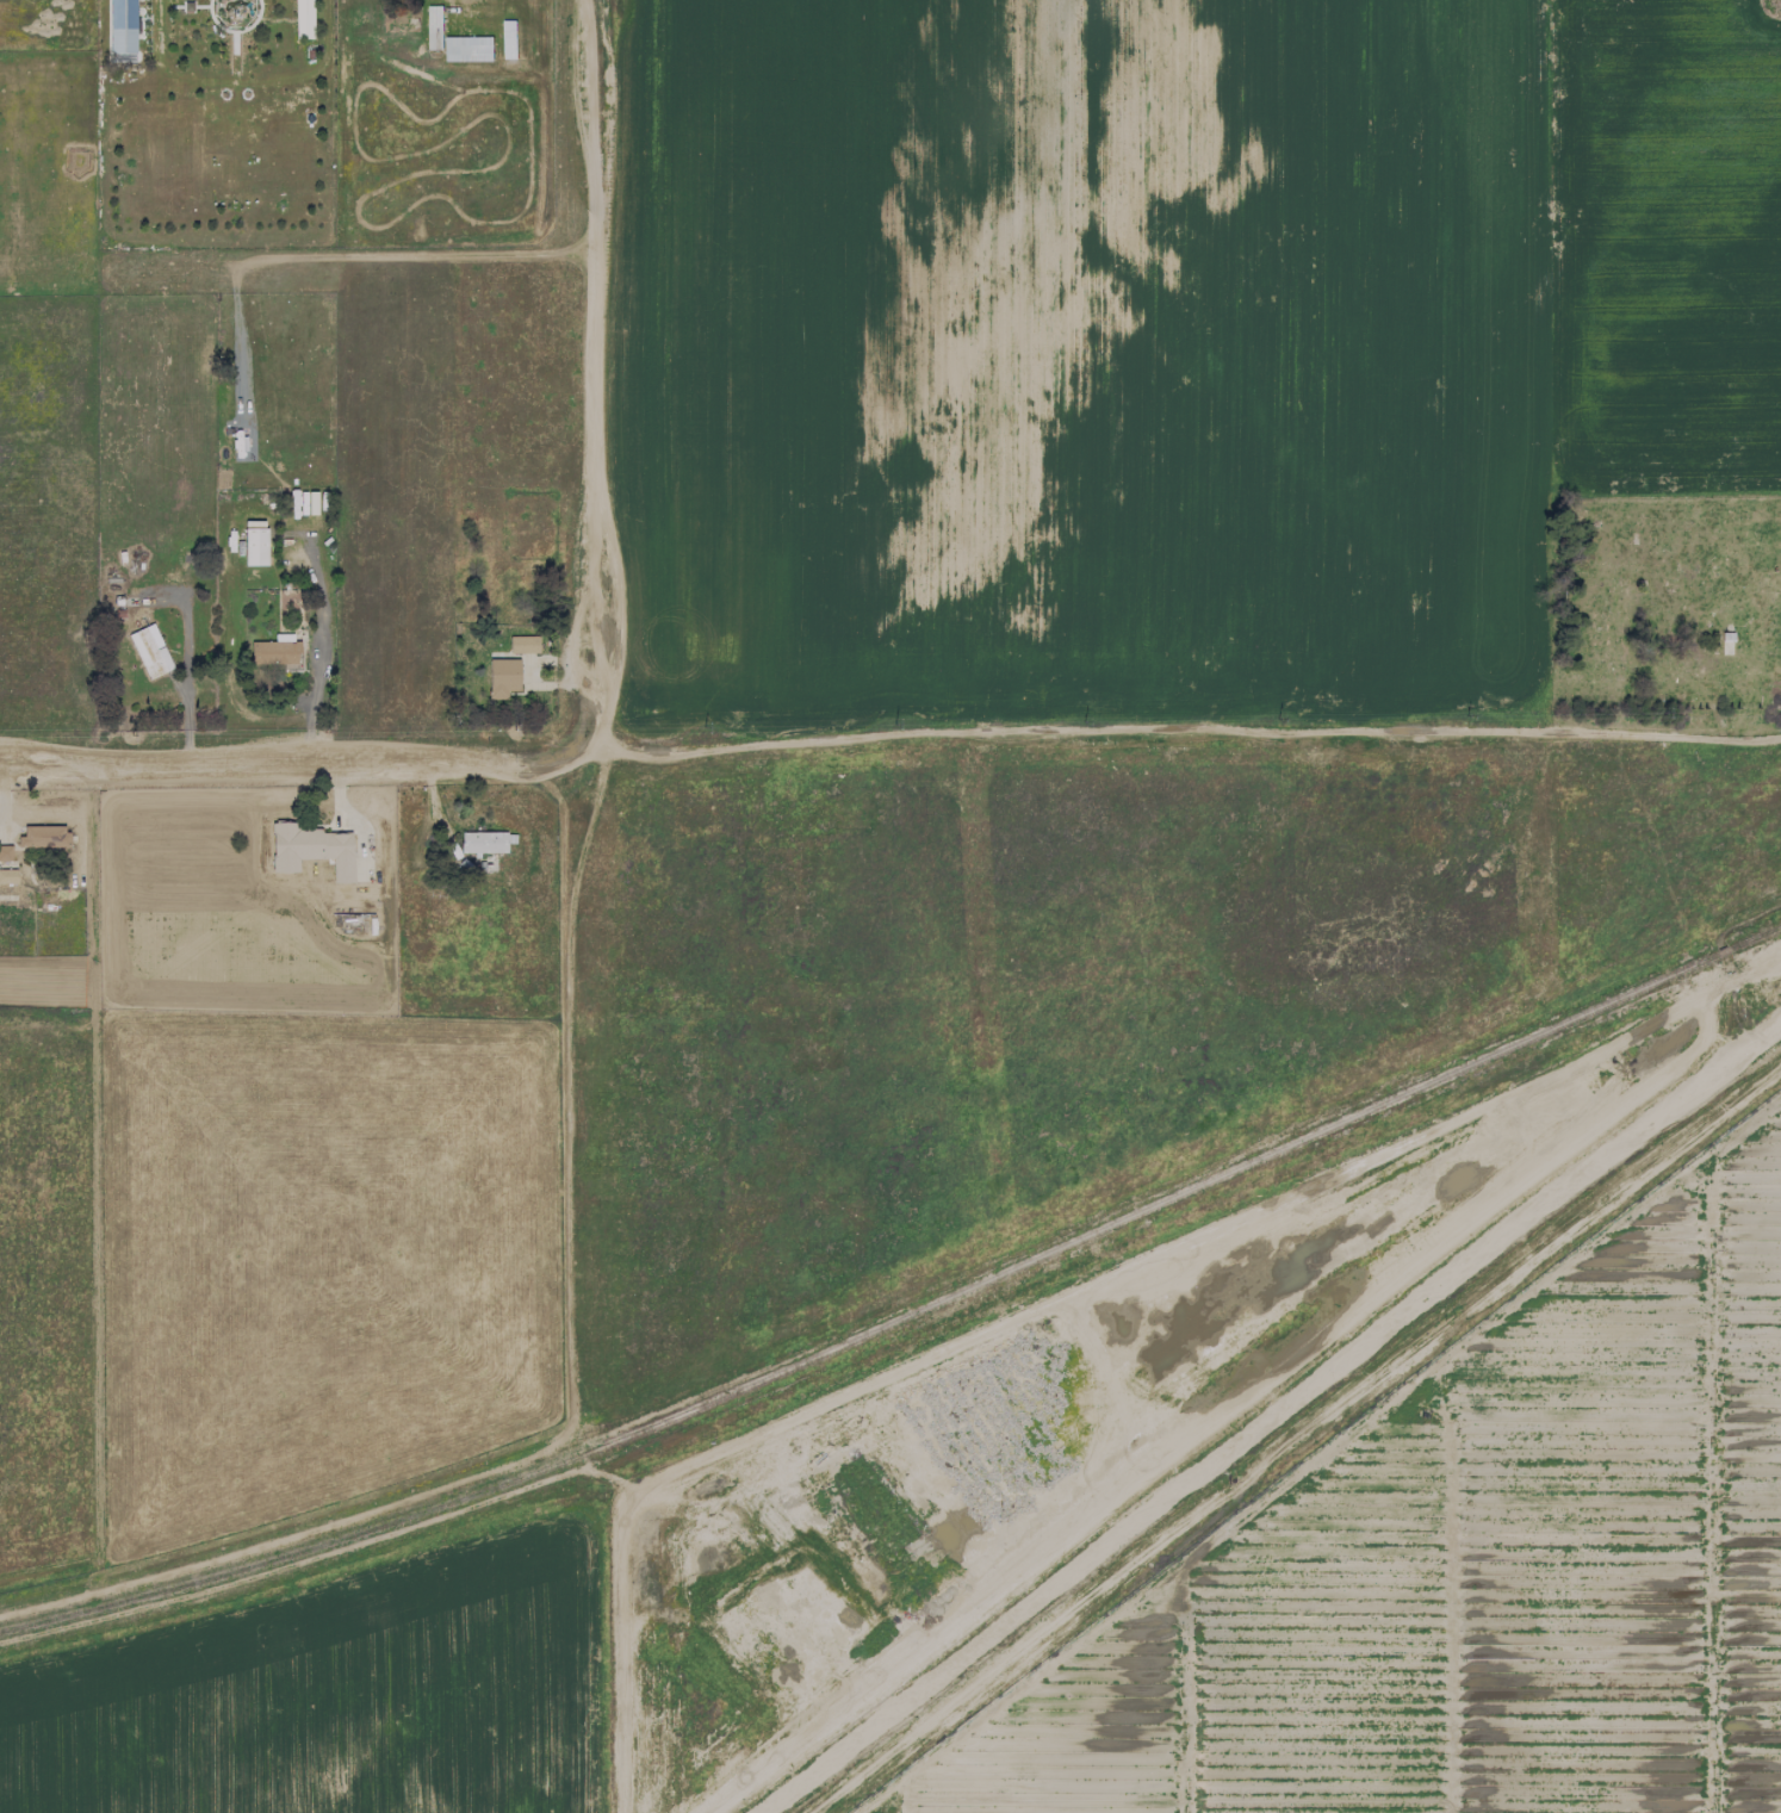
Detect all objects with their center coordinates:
building: (122, 26)
building: (435, 27)
building: (509, 39)
building: (468, 48)
road: (594, 371)
building: (255, 546)
building: (523, 644)
building: (150, 651)
building: (275, 652)
building: (503, 677)
road: (889, 737)
building: (43, 836)
building: (483, 842)
building: (314, 850)
building: (5, 853)
building: (7, 876)
railway: (1293, 1138)
railway: (410, 1513)

